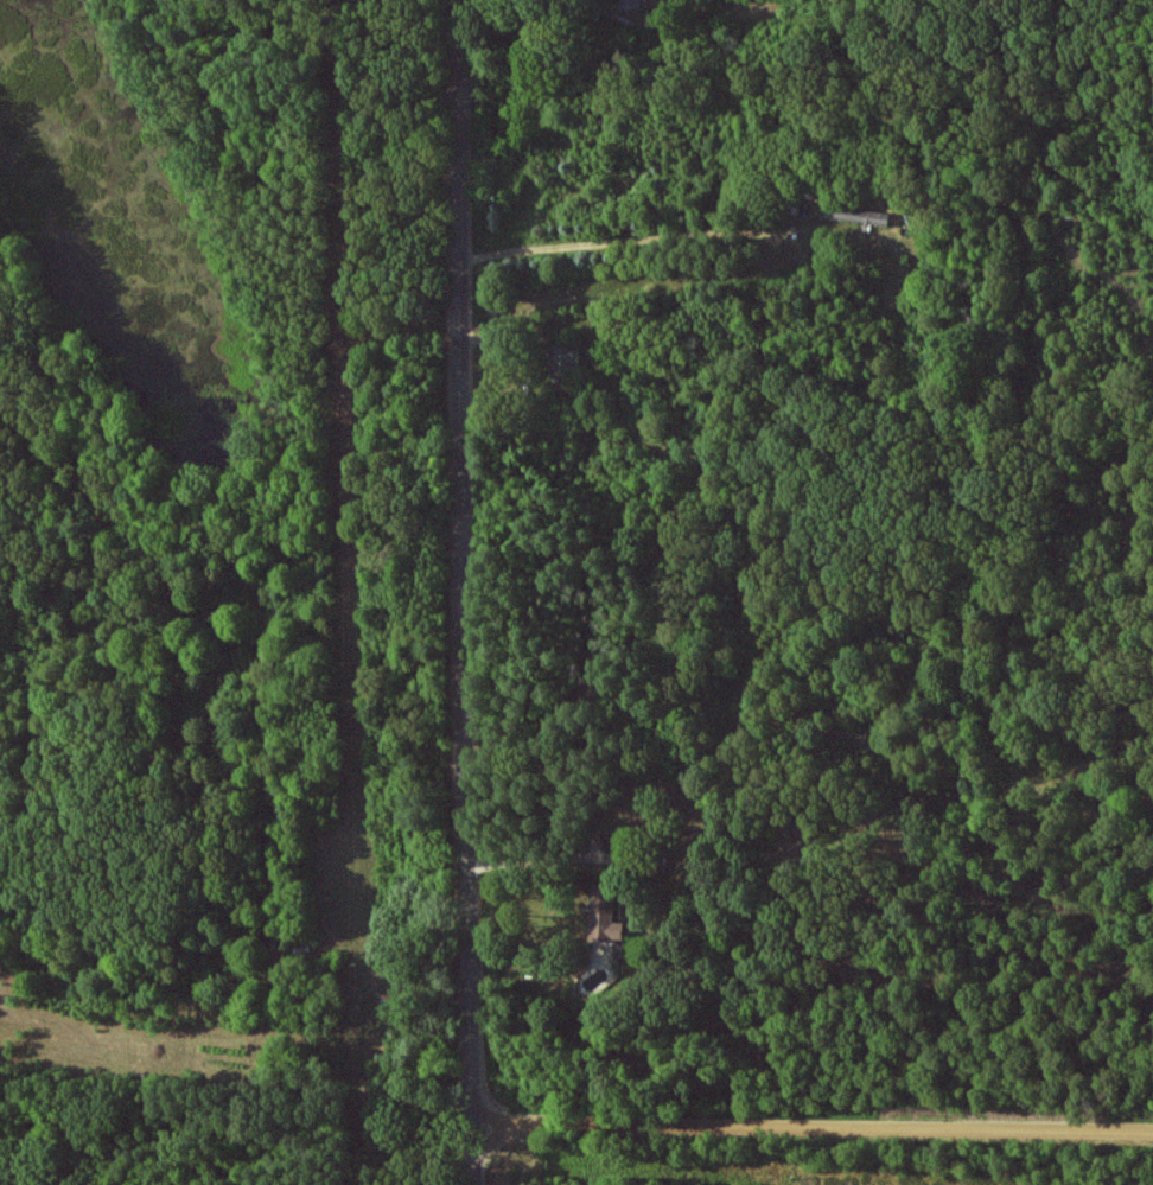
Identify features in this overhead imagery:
building: (628, 5)
building: (858, 215)
road: (618, 242)
building: (563, 359)
road: (469, 592)
building: (605, 916)
road: (814, 1127)

